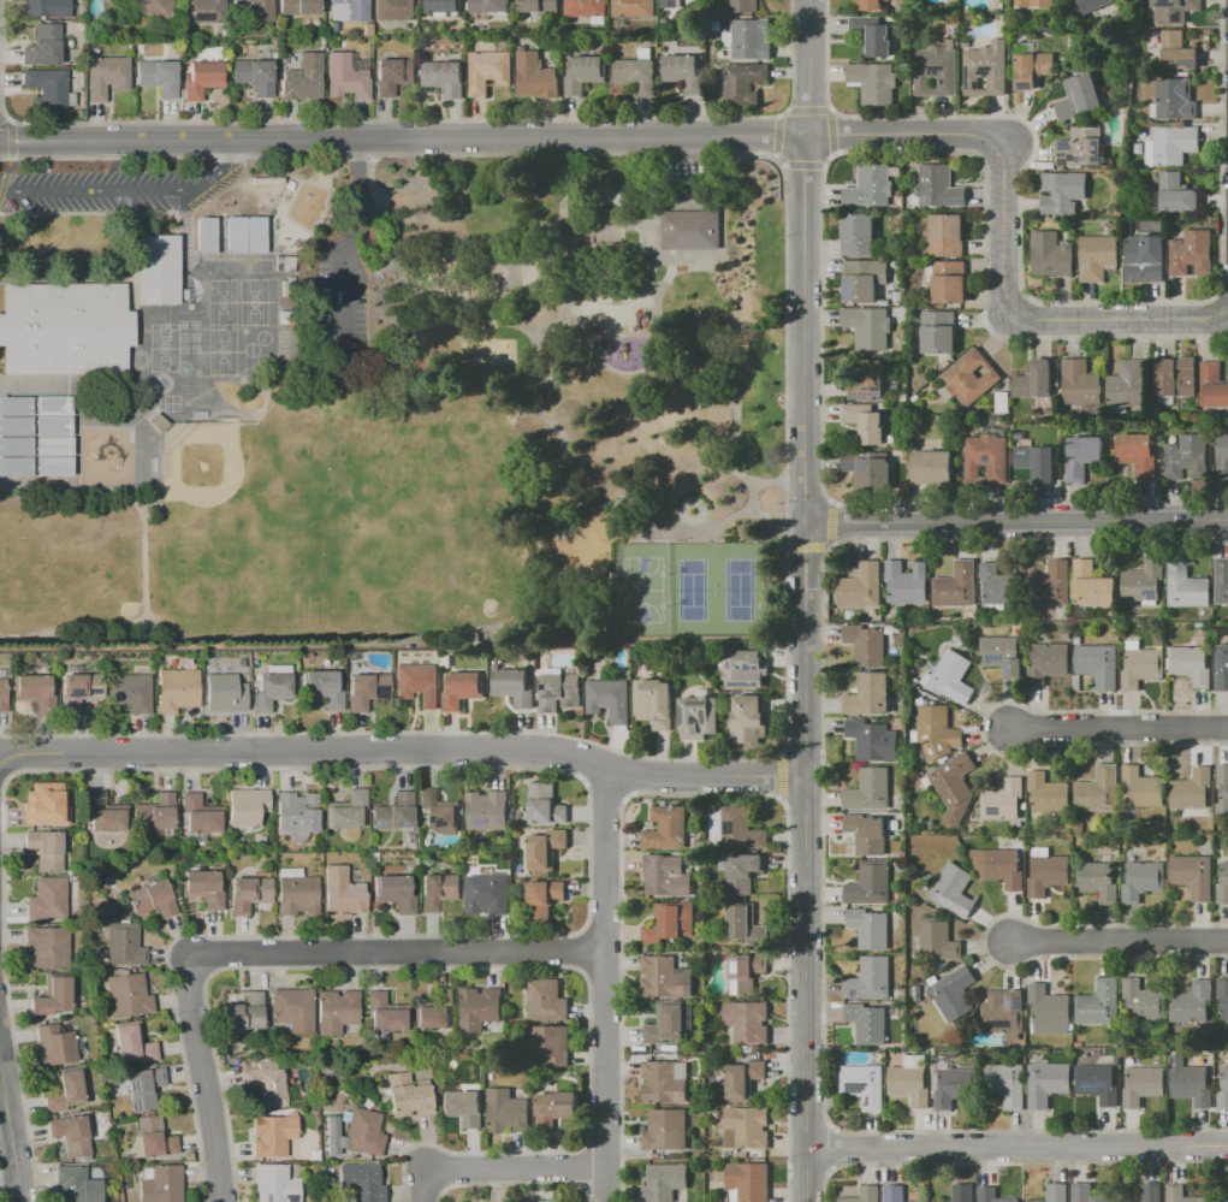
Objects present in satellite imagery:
building: (1034, 2)
building: (670, 4)
building: (445, 5)
building: (744, 5)
building: (870, 5)
building: (1091, 5)
building: (491, 6)
building: (539, 6)
building: (299, 7)
building: (587, 7)
building: (46, 8)
building: (150, 8)
building: (634, 8)
building: (261, 10)
building: (349, 10)
building: (394, 10)
building: (1174, 10)
building: (203, 11)
building: (873, 35)
building: (751, 37)
building: (42, 46)
building: (1179, 51)
building: (1031, 65)
road: (807, 66)
building: (986, 69)
building: (937, 70)
building: (490, 71)
building: (637, 71)
building: (686, 71)
building: (585, 72)
building: (393, 75)
building: (106, 76)
building: (254, 76)
building: (445, 76)
building: (536, 76)
building: (158, 77)
building: (345, 77)
building: (202, 78)
building: (302, 78)
building: (874, 82)
building: (743, 83)
building: (979, 83)
building: (48, 88)
building: (1078, 97)
building: (1173, 99)
road: (807, 108)
road: (2, 117)
road: (444, 118)
road: (831, 130)
road: (898, 132)
road: (775, 134)
road: (401, 136)
road: (7, 138)
building: (1170, 144)
building: (1081, 147)
road: (803, 164)
road: (5, 176)
building: (267, 180)
building: (871, 186)
building: (938, 186)
building: (1063, 191)
road: (127, 193)
building: (1177, 193)
road: (570, 207)
building: (692, 230)
building: (858, 233)
building: (236, 235)
building: (255, 235)
building: (947, 235)
building: (206, 236)
road: (344, 239)
road: (468, 239)
road: (820, 243)
building: (1192, 253)
building: (1051, 254)
building: (1097, 256)
building: (1144, 257)
building: (155, 270)
building: (864, 279)
building: (949, 282)
road: (1026, 292)
road: (1227, 307)
road: (522, 318)
road: (1036, 318)
building: (867, 326)
road: (805, 327)
building: (65, 328)
building: (939, 331)
park: (591, 368)
building: (971, 377)
building: (1175, 378)
building: (867, 380)
building: (1034, 380)
building: (1079, 381)
building: (1127, 384)
building: (1214, 384)
building: (1002, 402)
building: (53, 405)
building: (16, 407)
building: (866, 422)
building: (16, 426)
building: (54, 426)
building: (54, 445)
building: (16, 446)
building: (1138, 452)
building: (1082, 456)
building: (1187, 456)
road: (784, 457)
building: (986, 458)
building: (1222, 458)
building: (1037, 462)
building: (54, 466)
building: (17, 467)
building: (931, 467)
building: (868, 469)
road: (605, 495)
road: (1016, 521)
road: (830, 523)
road: (807, 546)
building: (1143, 580)
building: (1222, 580)
building: (907, 581)
building: (956, 585)
building: (1052, 585)
building: (1092, 585)
building: (861, 586)
building: (998, 586)
building: (1187, 586)
building: (866, 644)
building: (1001, 653)
building: (1048, 661)
building: (1098, 664)
building: (1141, 664)
building: (1191, 664)
building: (1222, 667)
building: (743, 668)
building: (950, 676)
building: (417, 683)
building: (514, 686)
building: (271, 687)
building: (324, 687)
building: (462, 688)
building: (79, 689)
building: (177, 689)
building: (367, 689)
building: (34, 691)
building: (560, 691)
building: (130, 692)
building: (225, 692)
building: (871, 694)
building: (2, 695)
building: (610, 699)
building: (654, 701)
building: (698, 716)
building: (748, 717)
road: (1119, 728)
building: (937, 732)
building: (872, 739)
road: (404, 750)
building: (954, 786)
building: (1141, 787)
building: (870, 789)
building: (1098, 789)
building: (1193, 789)
building: (1222, 789)
building: (1048, 792)
building: (1003, 799)
building: (545, 804)
building: (43, 805)
building: (245, 807)
building: (438, 809)
building: (487, 810)
building: (345, 811)
building: (103, 812)
building: (296, 812)
building: (394, 812)
building: (154, 813)
building: (200, 815)
building: (666, 828)
building: (741, 828)
building: (867, 833)
building: (45, 848)
building: (546, 848)
road: (807, 861)
building: (1003, 868)
building: (742, 871)
building: (1046, 871)
building: (666, 875)
building: (1193, 875)
building: (1098, 880)
building: (1141, 880)
building: (870, 884)
building: (1223, 884)
building: (202, 887)
building: (953, 889)
building: (438, 890)
building: (343, 892)
building: (394, 892)
building: (248, 894)
building: (487, 894)
building: (297, 896)
building: (544, 898)
building: (47, 899)
building: (153, 899)
building: (670, 922)
building: (746, 924)
building: (870, 926)
building: (936, 938)
road: (1120, 940)
building: (123, 945)
building: (47, 947)
road: (398, 954)
building: (746, 972)
building: (665, 977)
building: (871, 978)
road: (605, 983)
building: (955, 991)
building: (127, 994)
building: (1223, 995)
building: (53, 996)
building: (546, 1000)
building: (1143, 1001)
building: (1099, 1002)
building: (1193, 1002)
building: (292, 1008)
building: (479, 1008)
building: (1049, 1009)
building: (336, 1011)
building: (244, 1012)
building: (435, 1012)
building: (1003, 1012)
building: (386, 1013)
building: (748, 1020)
building: (867, 1022)
building: (666, 1023)
building: (132, 1043)
building: (552, 1043)
building: (54, 1044)
road: (203, 1079)
building: (743, 1079)
building: (665, 1080)
building: (910, 1080)
building: (1097, 1082)
building: (1048, 1083)
building: (265, 1084)
building: (864, 1084)
building: (1005, 1084)
building: (1192, 1084)
building: (953, 1085)
building: (1143, 1085)
building: (143, 1089)
building: (1223, 1089)
building: (64, 1090)
building: (408, 1094)
building: (463, 1106)
building: (554, 1107)
building: (506, 1111)
building: (746, 1126)
building: (666, 1129)
building: (355, 1132)
building: (71, 1135)
building: (272, 1135)
building: (154, 1138)
road: (10, 1143)
road: (1020, 1147)
road: (504, 1166)
building: (361, 1182)
building: (664, 1182)
building: (747, 1182)
road: (8, 1184)
building: (161, 1184)
building: (274, 1184)
building: (76, 1185)
building: (961, 1192)
building: (1056, 1192)
building: (894, 1194)
building: (1085, 1194)
building: (1149, 1194)
building: (864, 1195)
building: (992, 1195)
building: (1181, 1195)
building: (1221, 1200)
building: (546, 1201)
building: (918, 1201)

